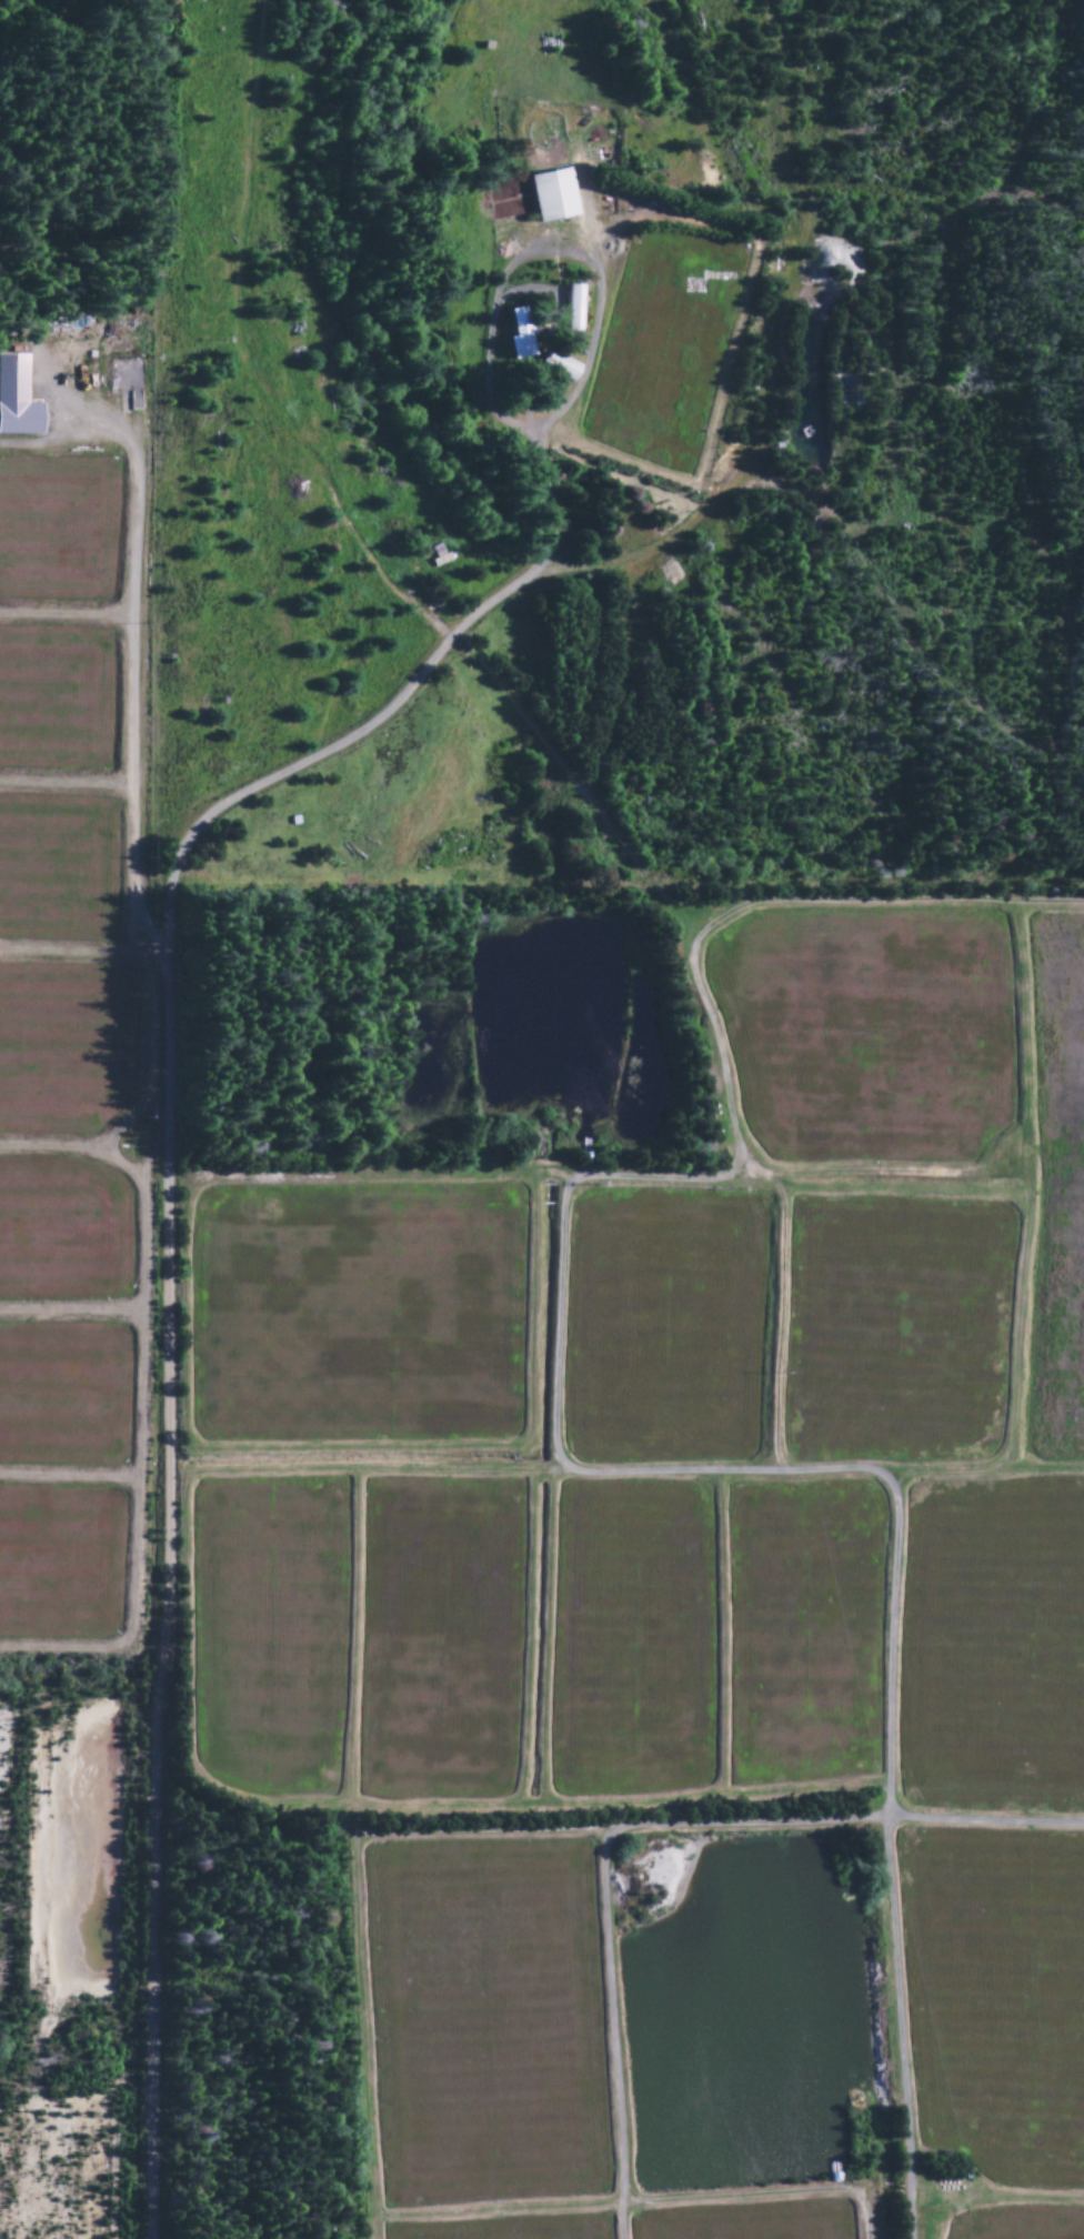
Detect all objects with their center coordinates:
building: (550, 197)
building: (569, 310)
building: (515, 335)
building: (561, 368)
building: (14, 401)
crop: (53, 534)
crop: (56, 700)
crop: (56, 874)
crop: (864, 1033)
crop: (59, 1051)
crop: (1057, 1189)
road: (165, 1299)
crop: (355, 1316)
crop: (660, 1327)
crop: (895, 1331)
road: (773, 1427)
crop: (801, 1631)
crop: (265, 1636)
crop: (436, 1641)
crop: (629, 1641)
crop: (992, 1649)
road: (720, 1824)
crop: (995, 2000)
crop: (482, 2025)
crop: (745, 2223)
crop: (1017, 2223)
crop: (501, 2230)

